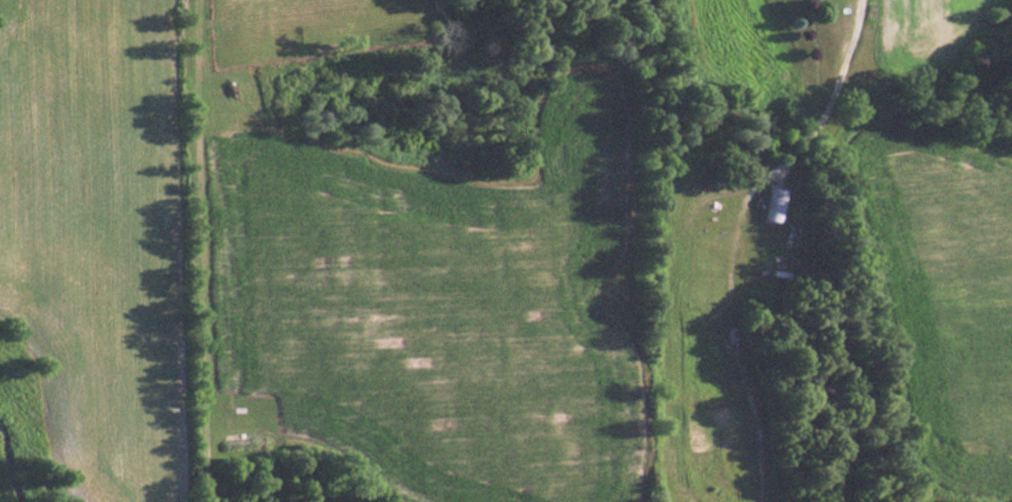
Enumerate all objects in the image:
road: (824, 101)
building: (774, 205)

